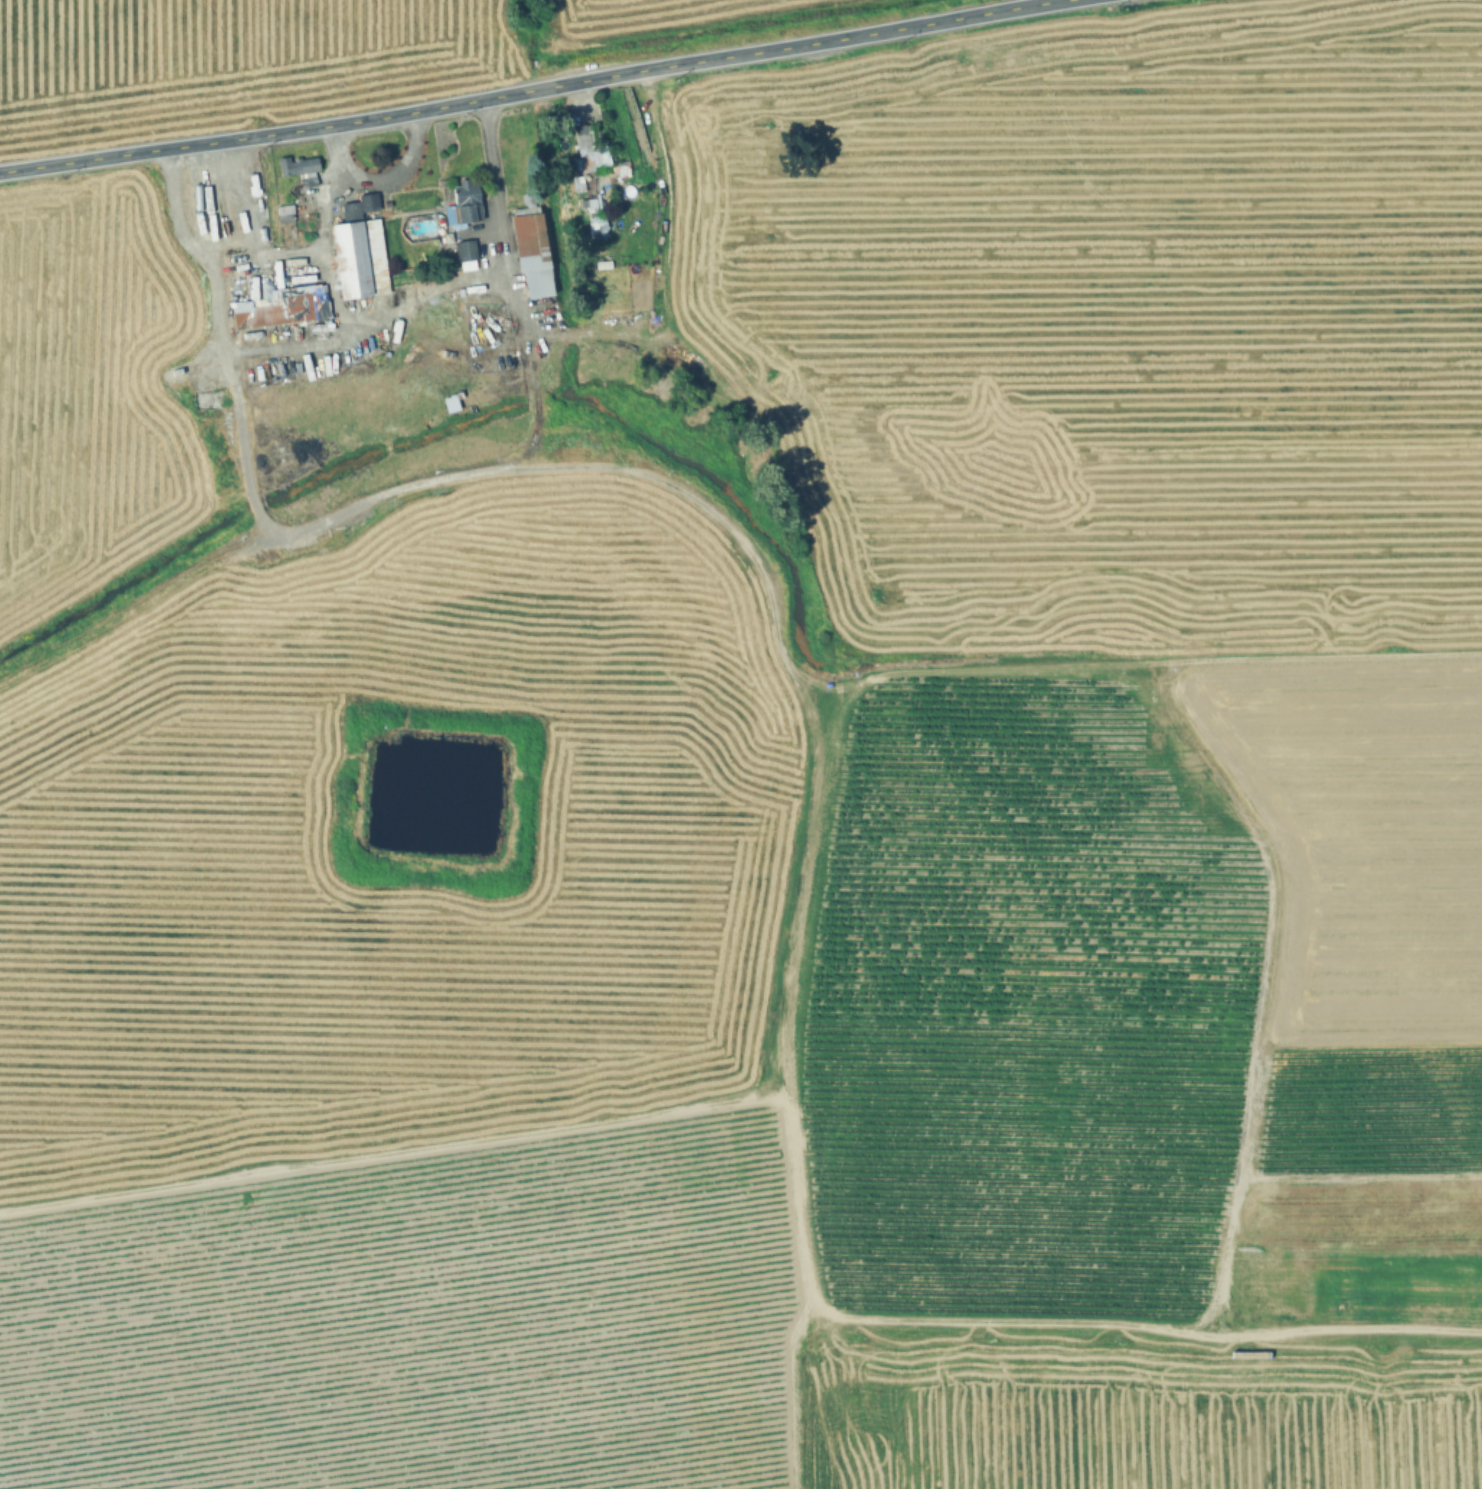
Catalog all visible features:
crop: (302, 48)
road: (539, 92)
building: (583, 145)
building: (299, 166)
road: (390, 170)
road: (490, 185)
road: (201, 199)
building: (467, 203)
road: (173, 208)
building: (285, 214)
building: (590, 220)
building: (466, 252)
building: (532, 254)
building: (360, 260)
road: (420, 294)
building: (282, 308)
road: (337, 330)
building: (451, 404)
building: (229, 435)
crop: (786, 820)

